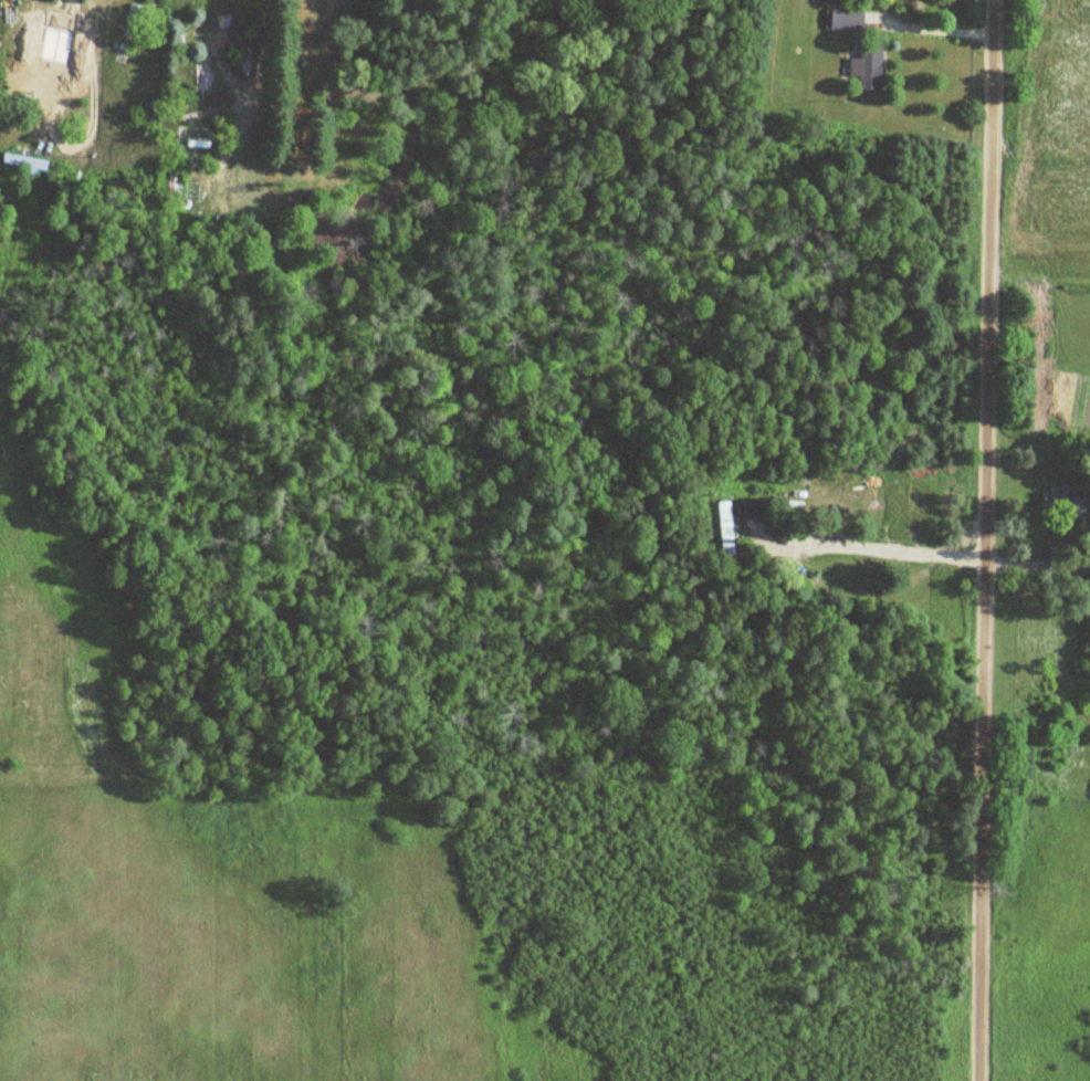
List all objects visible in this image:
building: (846, 20)
building: (871, 69)
road: (254, 73)
building: (25, 161)
building: (755, 508)
building: (725, 527)
road: (992, 540)
road: (872, 546)

